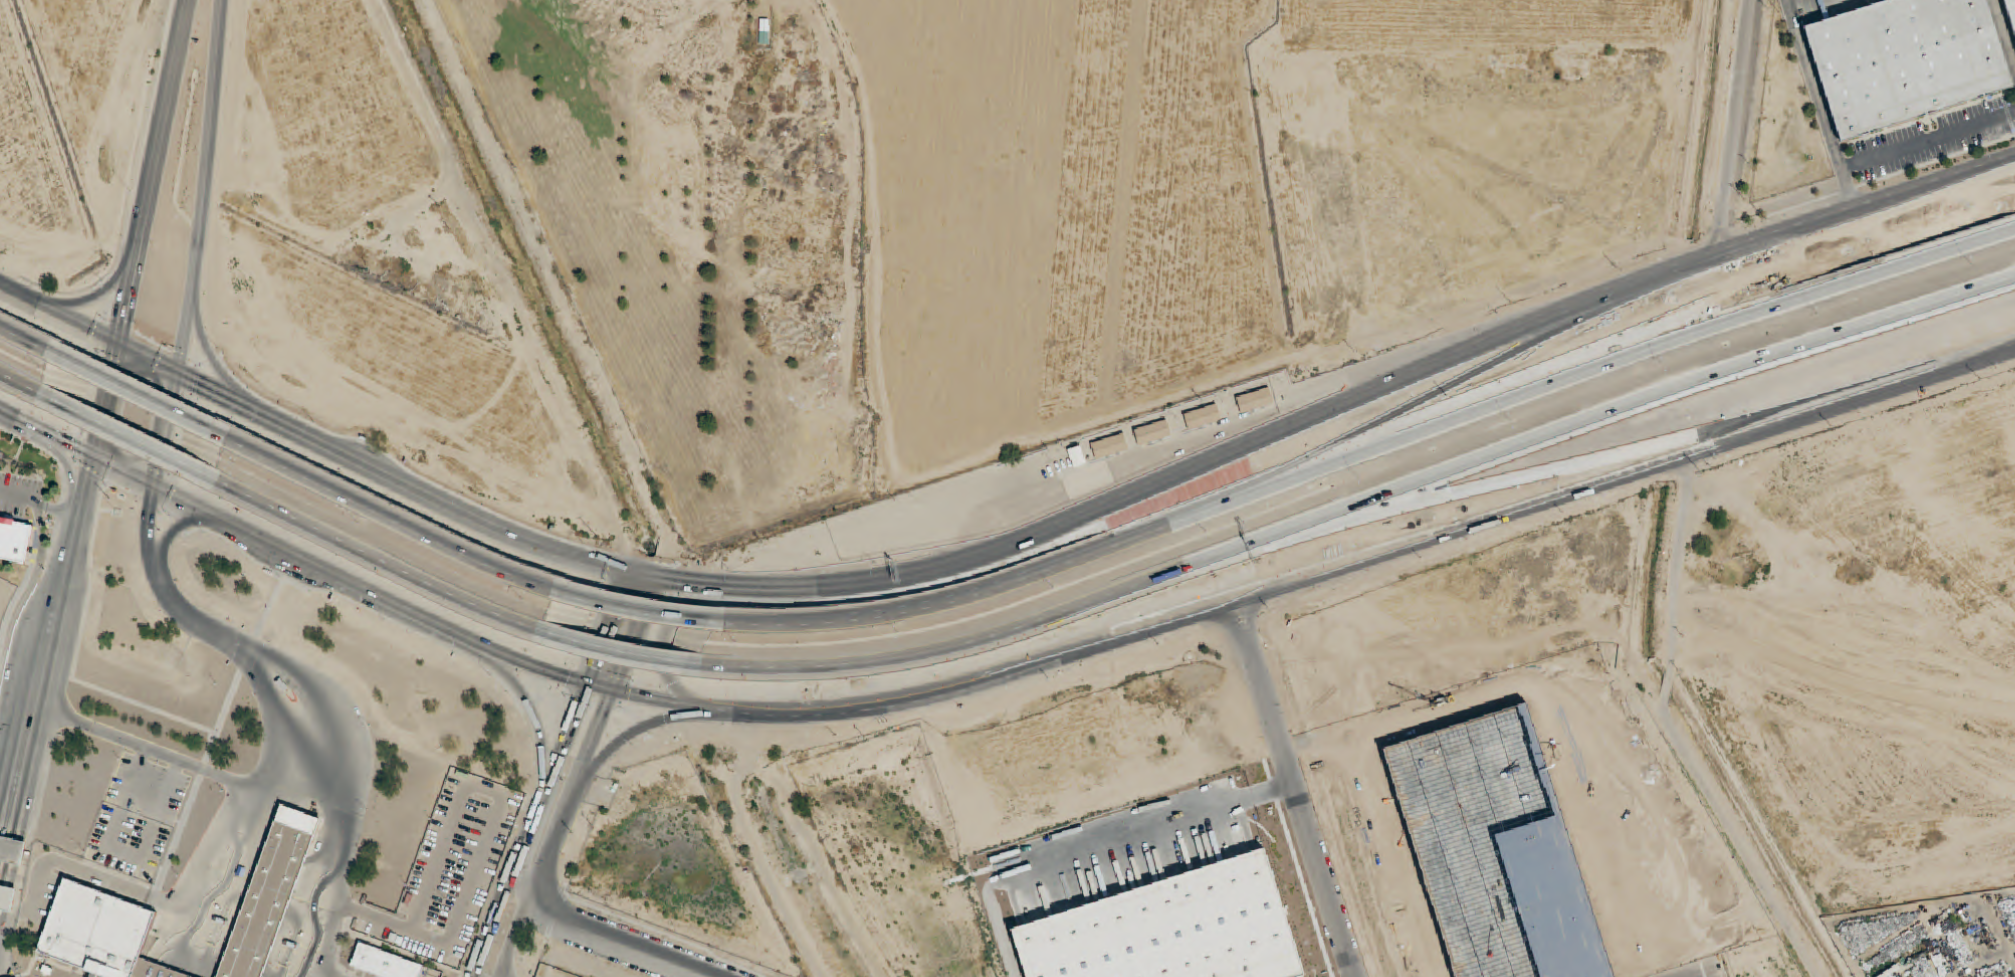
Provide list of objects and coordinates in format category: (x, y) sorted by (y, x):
building: (2010, 13)
road: (2003, 33)
building: (1903, 61)
road: (1734, 127)
road: (210, 146)
road: (153, 172)
road: (1869, 207)
road: (1779, 259)
road: (1634, 286)
road: (85, 301)
road: (59, 314)
road: (186, 334)
road: (30, 342)
traffic signals: (118, 346)
road: (211, 355)
traffic signals: (180, 376)
road: (183, 377)
road: (26, 386)
road: (147, 398)
building: (1255, 400)
building: (1203, 417)
road: (1702, 422)
road: (167, 430)
road: (48, 432)
building: (1153, 432)
road: (138, 441)
building: (1110, 446)
road: (1378, 448)
road: (1702, 448)
traffic signals: (95, 456)
road: (77, 468)
road: (68, 470)
road: (72, 472)
road: (90, 474)
traffic signals: (155, 484)
road: (156, 484)
road: (121, 489)
road: (40, 504)
road: (150, 504)
road: (1373, 507)
road: (168, 512)
road: (57, 518)
road: (395, 518)
road: (179, 527)
road: (150, 532)
road: (174, 534)
building: (14, 540)
road: (40, 559)
road: (376, 559)
road: (903, 576)
traffic signals: (642, 577)
road: (29, 588)
road: (60, 592)
road: (15, 599)
road: (359, 605)
road: (269, 608)
road: (646, 610)
road: (621, 632)
road: (456, 633)
road: (659, 650)
road: (623, 654)
road: (75, 655)
road: (247, 655)
road: (1055, 658)
traffic signals: (600, 688)
road: (530, 710)
road: (1673, 732)
road: (634, 733)
road: (145, 748)
road: (274, 763)
road: (334, 785)
road: (1296, 789)
parking lot: (148, 790)
road: (194, 790)
road: (529, 827)
road: (555, 832)
road: (448, 839)
parking lot: (128, 841)
road: (1, 843)
toll booth: (0, 849)
road: (1096, 849)
building: (12, 851)
road: (124, 852)
parking lot: (450, 871)
road: (520, 884)
building: (271, 894)
road: (146, 895)
building: (6, 898)
building: (101, 934)
road: (611, 940)
road: (446, 944)
road: (172, 954)
road: (177, 956)
road: (182, 958)
road: (192, 960)
road: (195, 960)
road: (1332, 962)
building: (384, 963)
road: (157, 971)
road: (168, 972)
road: (179, 974)
road: (93, 976)
road: (188, 976)

